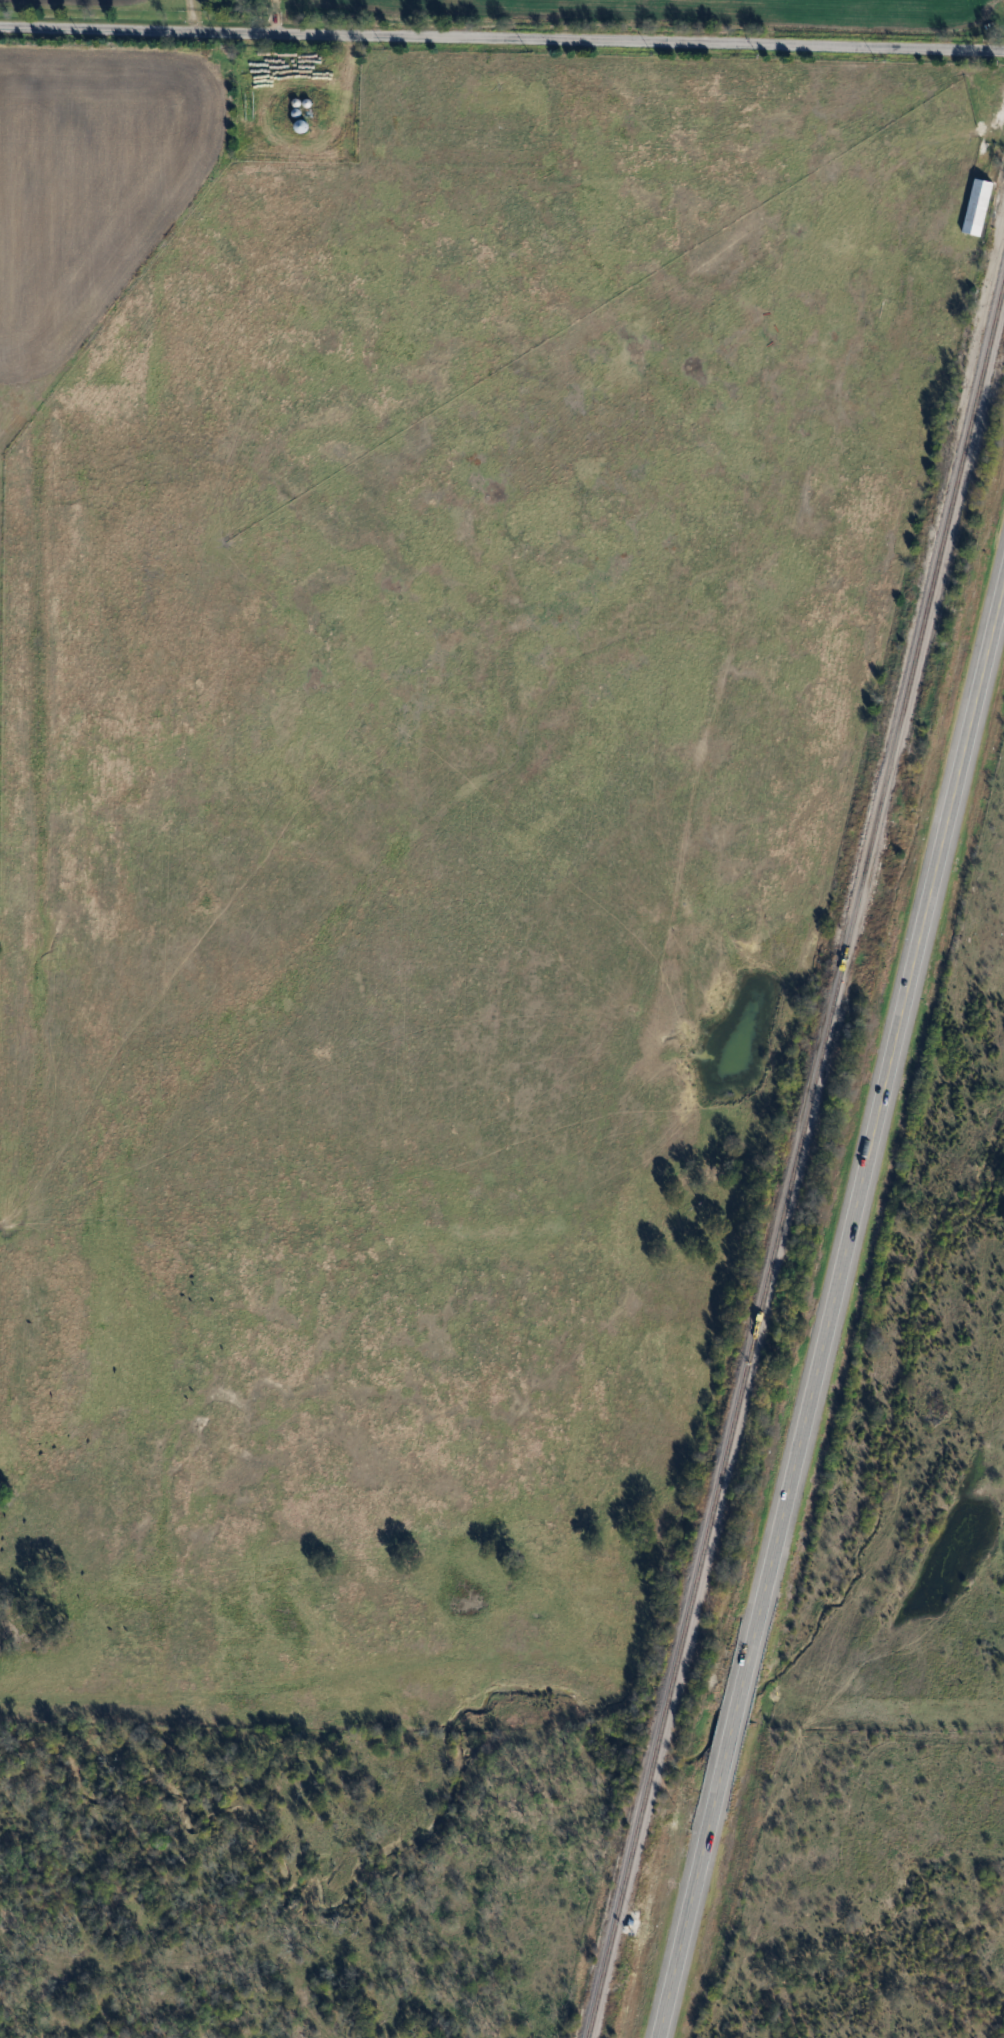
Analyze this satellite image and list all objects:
road: (502, 40)
building: (484, 98)
building: (301, 124)
building: (978, 205)
railway: (797, 1163)
road: (828, 1300)

